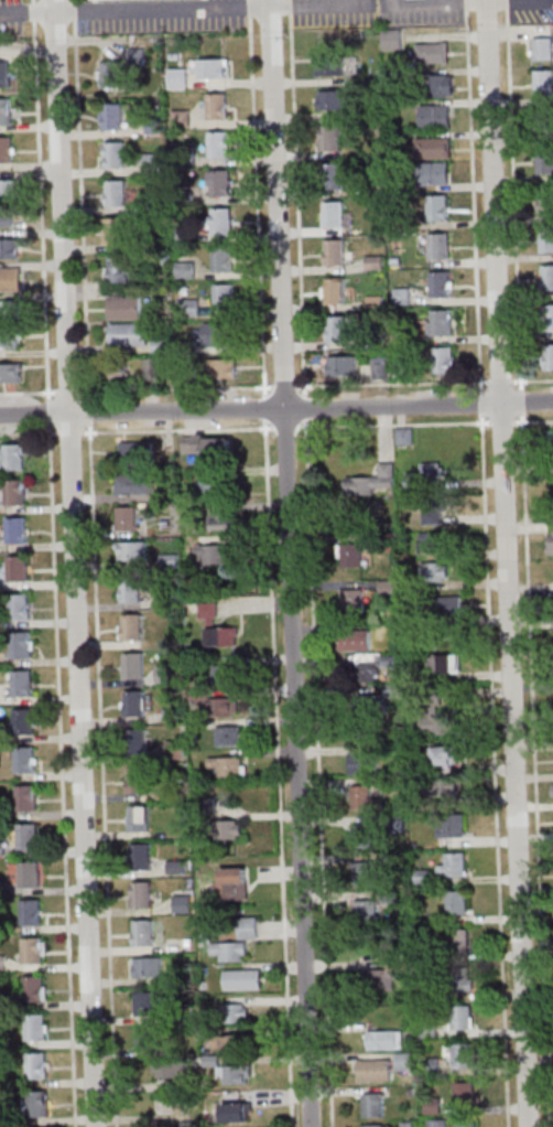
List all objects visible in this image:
road: (506, 0)
road: (528, 0)
road: (410, 1)
road: (497, 1)
road: (323, 3)
road: (30, 13)
road: (165, 13)
building: (392, 40)
building: (542, 49)
building: (431, 52)
building: (327, 65)
building: (213, 67)
building: (4, 74)
building: (110, 74)
building: (177, 76)
building: (543, 82)
building: (442, 85)
building: (332, 99)
building: (217, 105)
building: (7, 110)
building: (435, 115)
building: (111, 116)
building: (181, 117)
building: (329, 137)
building: (219, 143)
building: (433, 147)
building: (7, 148)
building: (115, 153)
building: (544, 161)
building: (433, 174)
building: (330, 175)
building: (221, 182)
building: (7, 189)
road: (473, 190)
building: (117, 192)
road: (513, 194)
road: (296, 196)
road: (257, 197)
building: (545, 200)
building: (438, 206)
building: (333, 214)
building: (221, 221)
building: (118, 230)
building: (546, 238)
building: (440, 245)
building: (9, 247)
building: (334, 251)
building: (224, 258)
building: (118, 269)
building: (547, 277)
building: (10, 278)
building: (441, 283)
building: (337, 294)
building: (224, 296)
building: (124, 305)
building: (189, 307)
building: (9, 309)
building: (547, 316)
building: (440, 321)
building: (337, 328)
building: (128, 333)
building: (215, 333)
building: (9, 336)
building: (549, 356)
building: (444, 359)
building: (343, 365)
building: (379, 365)
building: (224, 367)
building: (152, 368)
building: (11, 372)
building: (121, 375)
road: (533, 379)
road: (392, 382)
road: (175, 388)
road: (275, 410)
road: (177, 429)
road: (28, 431)
building: (404, 436)
building: (552, 439)
building: (206, 443)
building: (135, 451)
building: (12, 457)
building: (552, 473)
building: (429, 475)
building: (373, 481)
building: (133, 484)
building: (213, 489)
building: (15, 491)
building: (433, 515)
building: (127, 517)
building: (227, 519)
building: (17, 529)
building: (431, 540)
building: (133, 550)
building: (214, 554)
building: (351, 555)
road: (507, 562)
road: (74, 563)
road: (289, 563)
building: (19, 567)
building: (438, 570)
building: (131, 588)
building: (354, 600)
building: (452, 604)
building: (20, 605)
building: (131, 626)
building: (217, 627)
building: (355, 640)
building: (22, 644)
building: (445, 663)
building: (133, 664)
building: (367, 672)
building: (166, 673)
building: (224, 674)
building: (21, 681)
building: (134, 702)
building: (223, 707)
building: (24, 720)
building: (437, 724)
building: (229, 734)
building: (137, 741)
building: (174, 748)
building: (446, 755)
building: (25, 759)
building: (365, 762)
building: (228, 765)
road: (278, 771)
road: (61, 775)
building: (138, 780)
building: (448, 787)
building: (362, 796)
building: (26, 797)
building: (140, 817)
building: (452, 828)
building: (230, 829)
building: (366, 830)
building: (28, 835)
building: (141, 856)
building: (453, 863)
building: (368, 871)
building: (31, 873)
building: (231, 882)
building: (142, 893)
building: (457, 902)
building: (183, 903)
building: (32, 911)
building: (366, 911)
building: (248, 927)
building: (143, 932)
building: (459, 940)
building: (34, 949)
building: (229, 951)
building: (148, 966)
building: (389, 976)
building: (242, 978)
building: (462, 980)
building: (35, 988)
building: (144, 1003)
building: (236, 1012)
building: (463, 1017)
building: (36, 1027)
building: (145, 1038)
building: (384, 1039)
building: (230, 1042)
building: (459, 1054)
building: (404, 1061)
building: (36, 1064)
building: (169, 1069)
building: (375, 1070)
building: (227, 1071)
building: (464, 1091)
building: (37, 1103)
building: (170, 1103)
building: (373, 1104)
building: (237, 1112)
building: (437, 1123)
building: (466, 1124)
building: (376, 1125)

